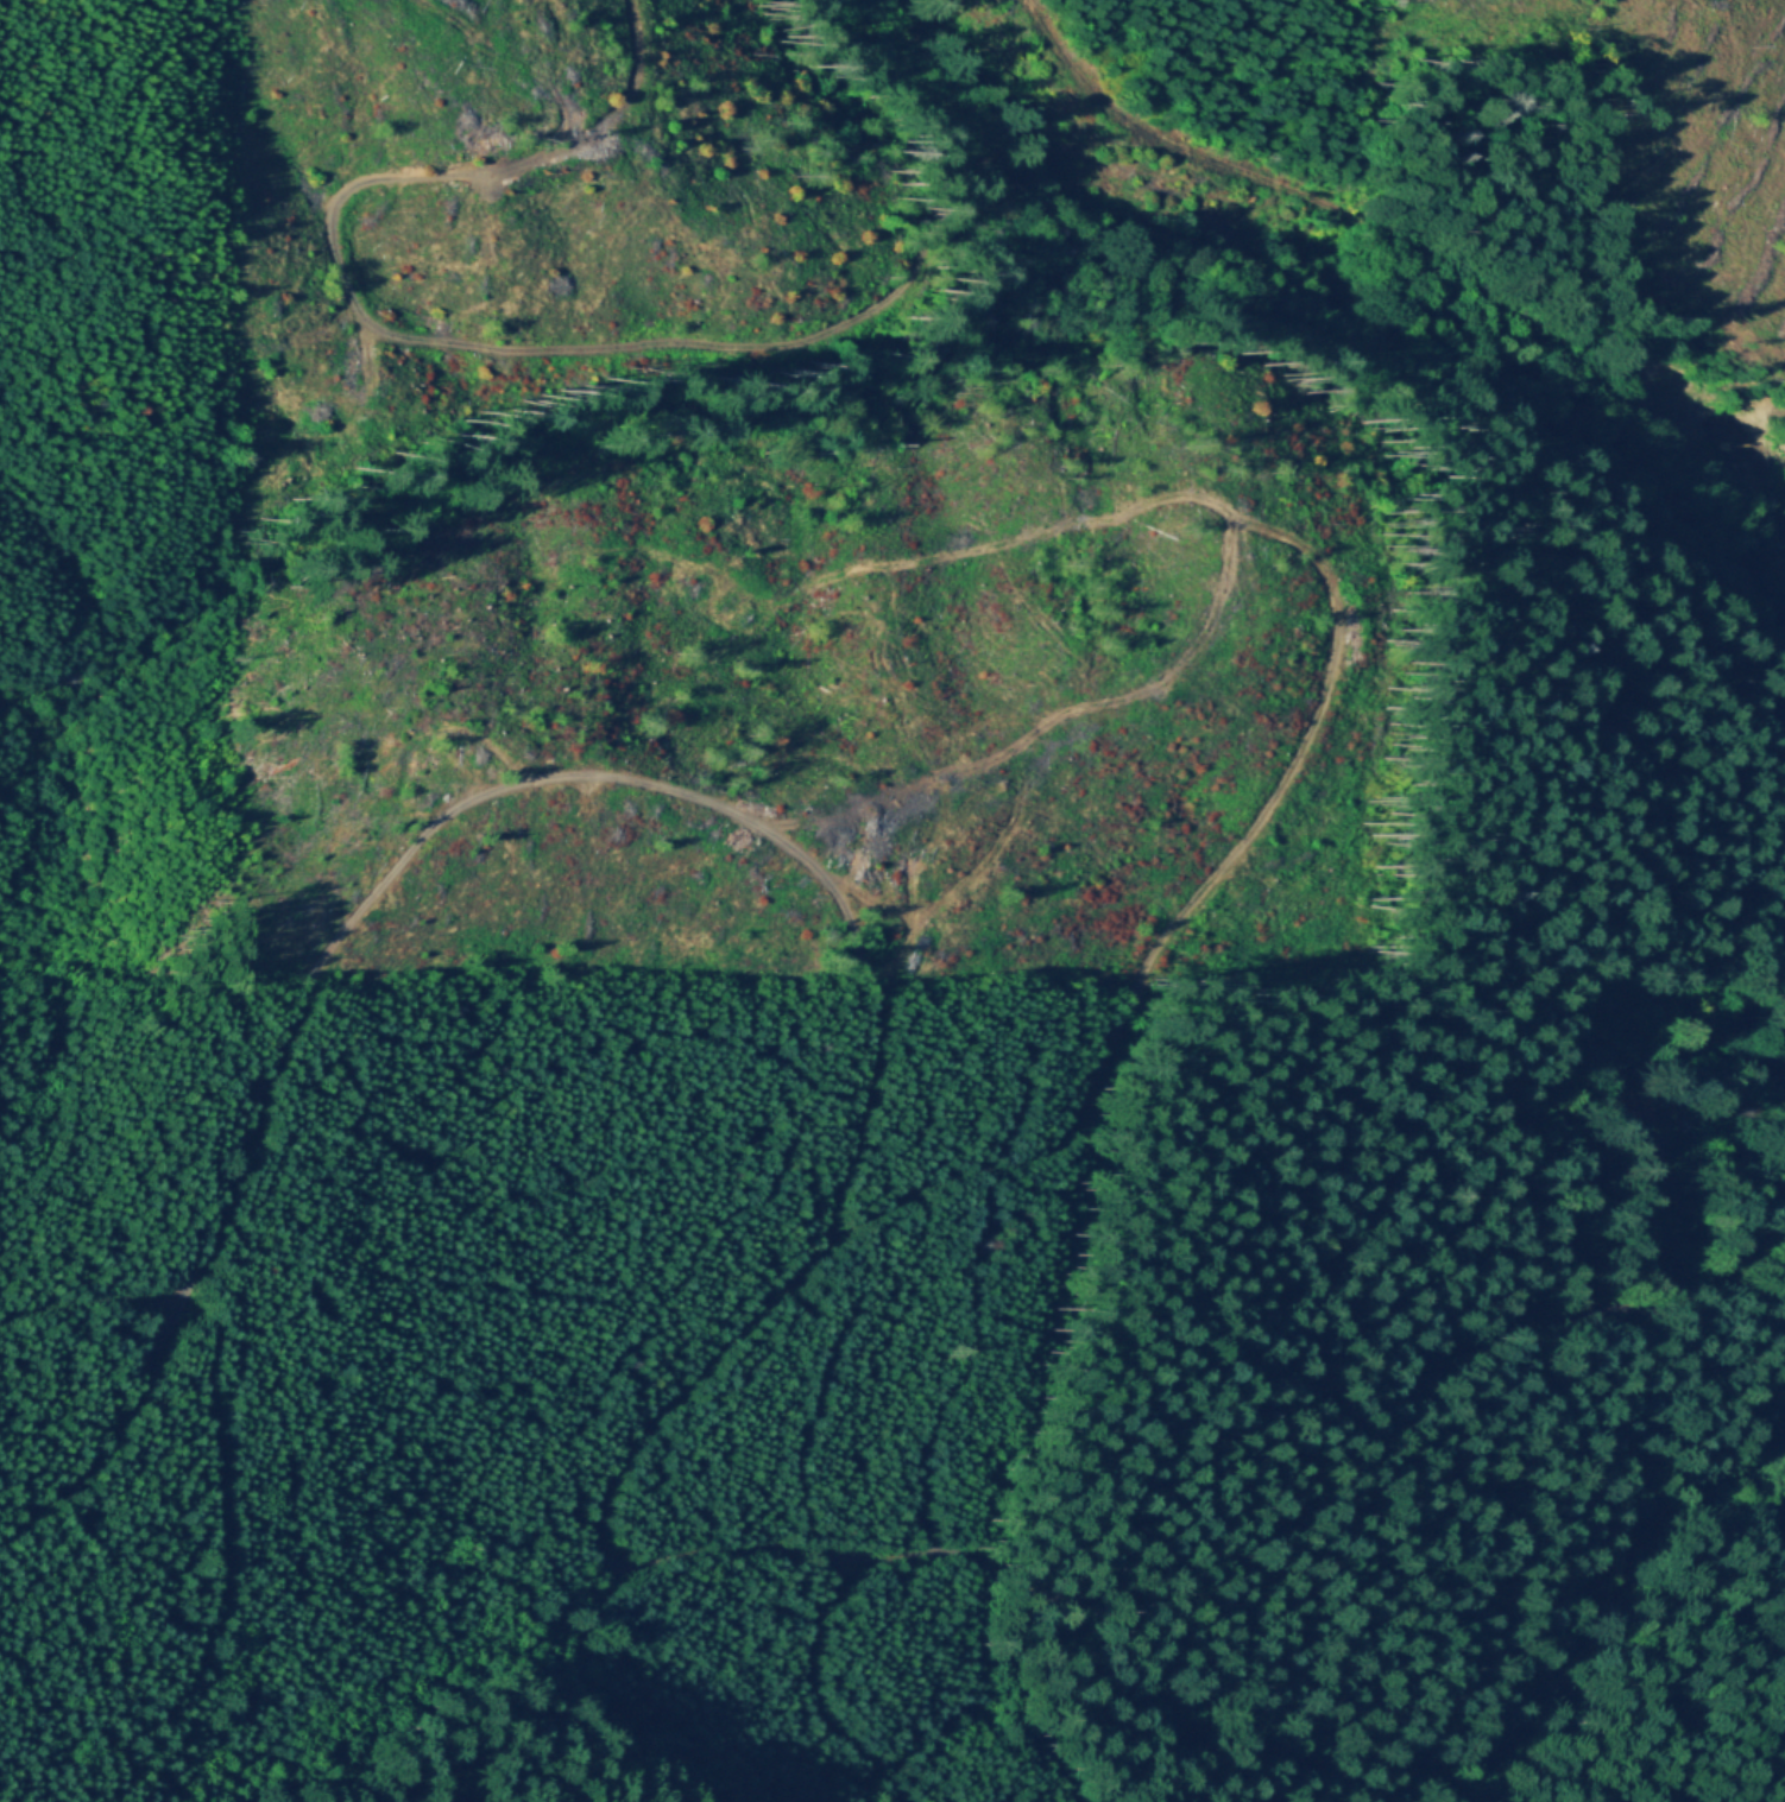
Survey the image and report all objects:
road: (1250, 171)
road: (1423, 265)
road: (478, 346)
road: (1200, 501)
road: (986, 849)
road: (908, 921)
road: (1182, 923)
building: (1641, 1113)
road: (1619, 1222)
road: (820, 1251)
road: (93, 1300)
road: (217, 1436)
road: (605, 1595)
road: (810, 1684)

